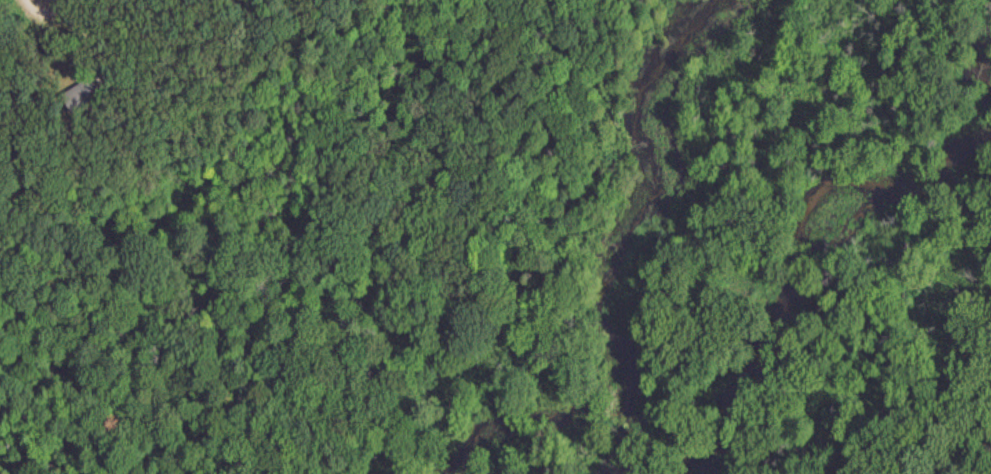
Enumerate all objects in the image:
building: (91, 86)

